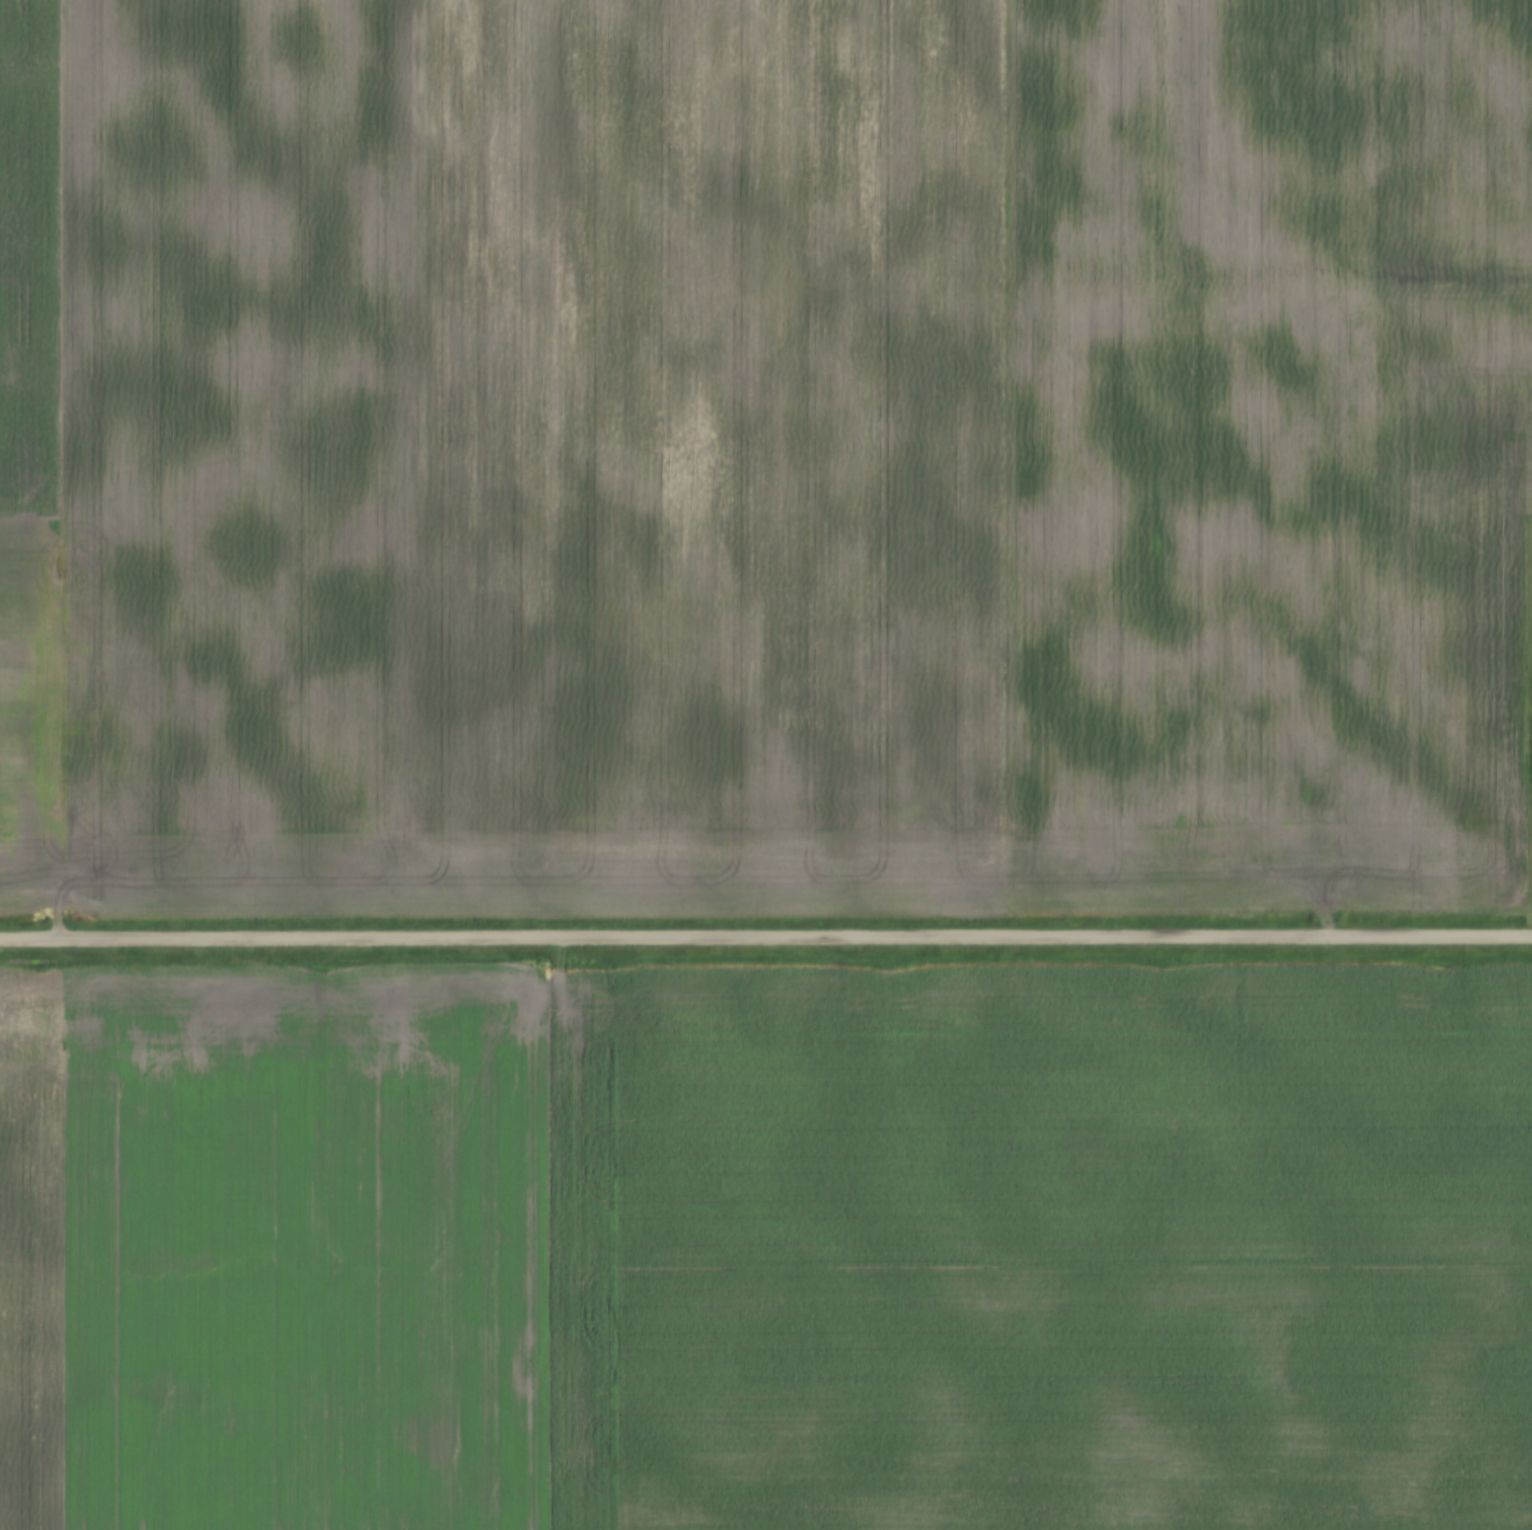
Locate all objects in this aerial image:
road: (55, 822)
road: (766, 940)

